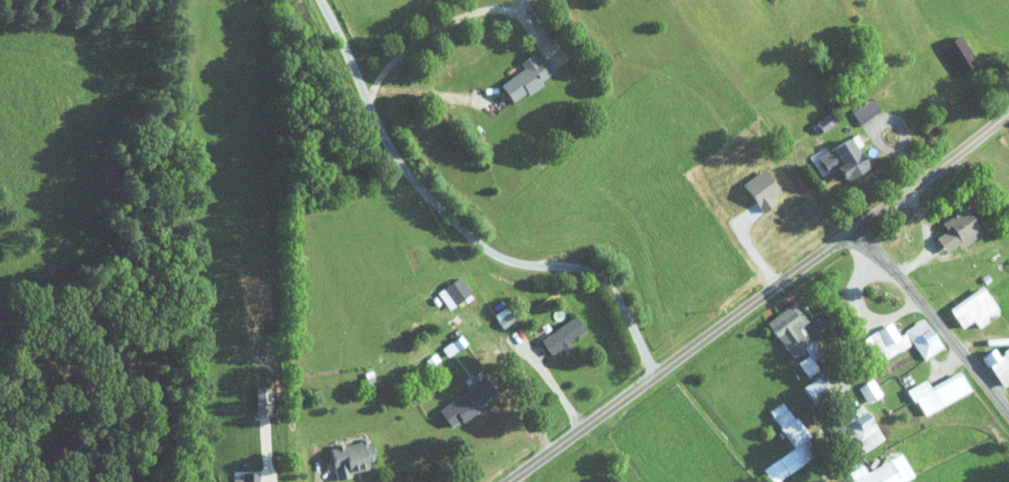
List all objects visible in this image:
road: (449, 21)
building: (955, 54)
building: (524, 77)
road: (426, 92)
building: (862, 112)
road: (899, 123)
building: (838, 158)
road: (466, 222)
building: (954, 230)
road: (928, 236)
building: (453, 290)
road: (759, 297)
building: (970, 308)
road: (890, 316)
building: (502, 317)
road: (933, 318)
road: (858, 322)
building: (560, 334)
building: (793, 338)
building: (897, 340)
building: (449, 346)
building: (997, 365)
building: (810, 389)
road: (556, 390)
building: (867, 390)
road: (533, 393)
building: (935, 393)
building: (260, 401)
building: (463, 402)
building: (788, 430)
building: (857, 431)
building: (348, 457)
road: (566, 465)
building: (886, 472)
building: (244, 477)

